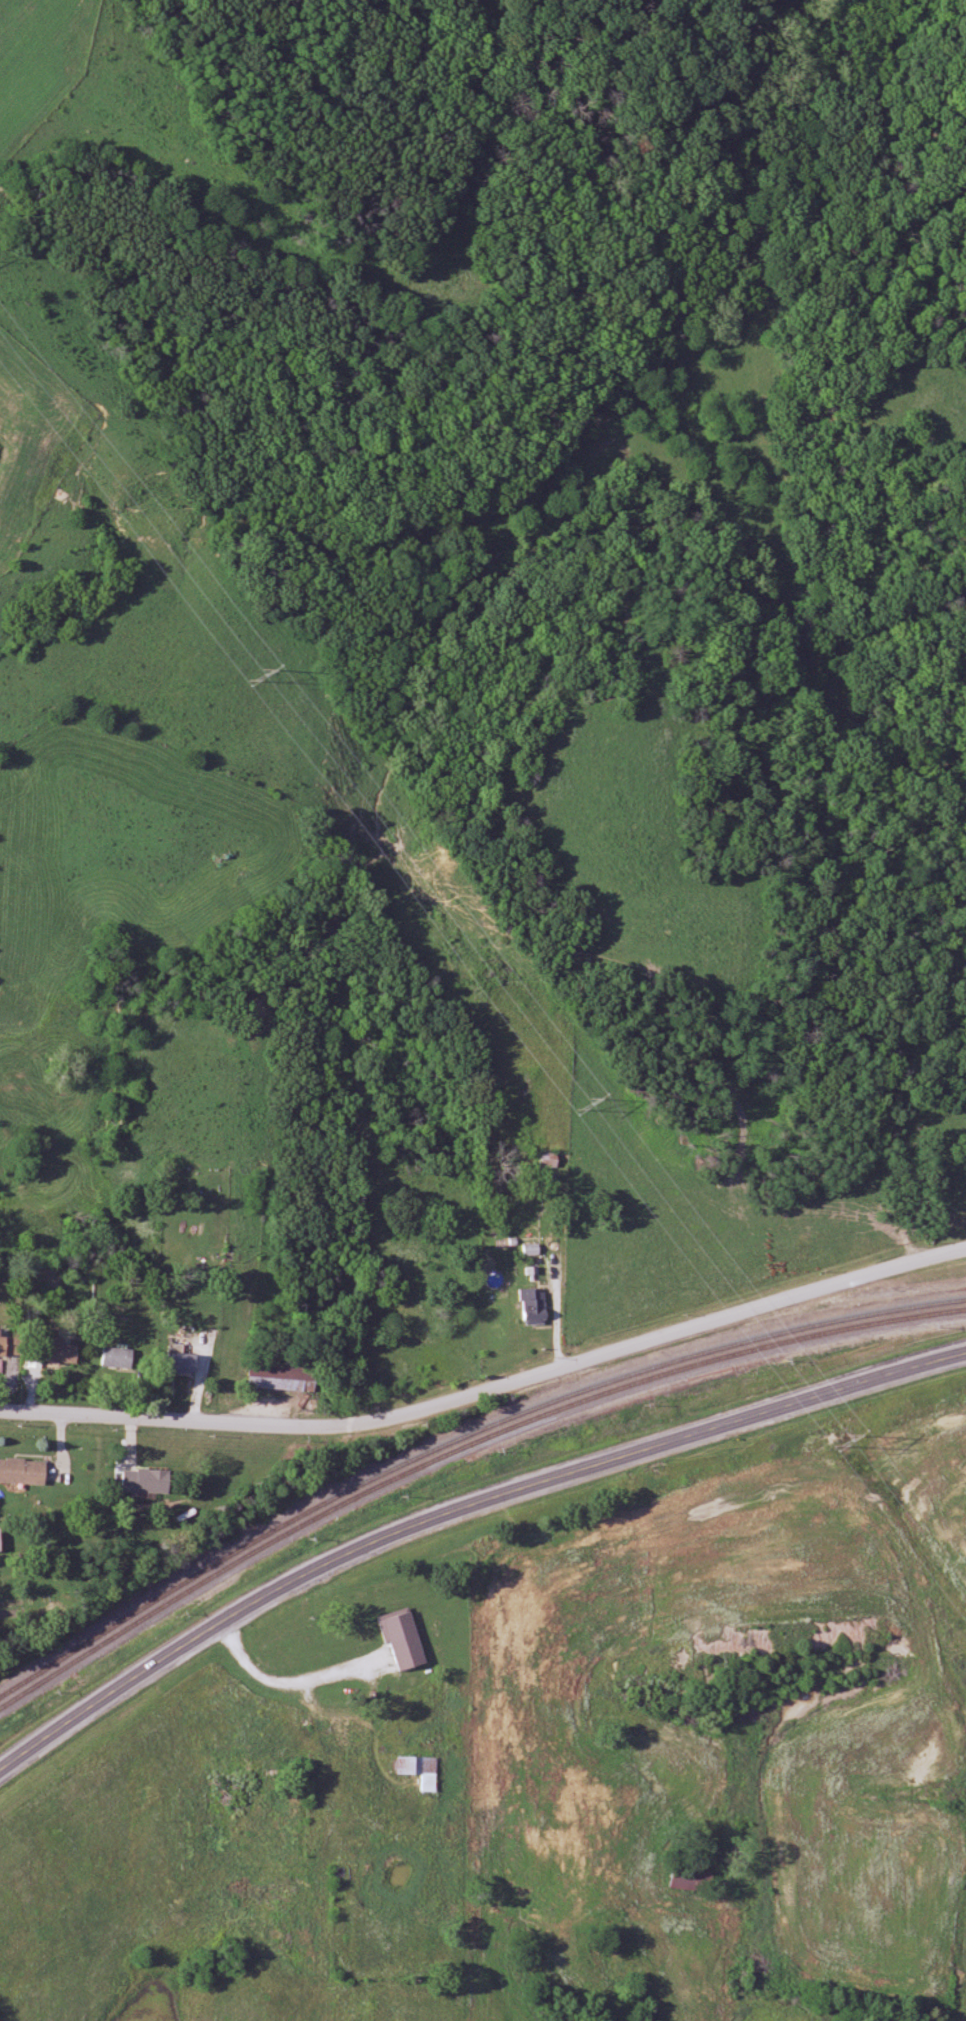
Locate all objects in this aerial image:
crop: (40, 58)
power tower: (259, 674)
power tower: (582, 1102)
building: (550, 1160)
building: (534, 1307)
building: (10, 1343)
building: (62, 1351)
building: (118, 1358)
building: (182, 1363)
building: (274, 1376)
road: (490, 1390)
railway: (458, 1439)
power tower: (844, 1439)
railway: (458, 1449)
building: (23, 1472)
building: (147, 1481)
road: (457, 1509)
building: (0, 1540)
road: (293, 1675)
building: (421, 1771)
building: (684, 1880)

